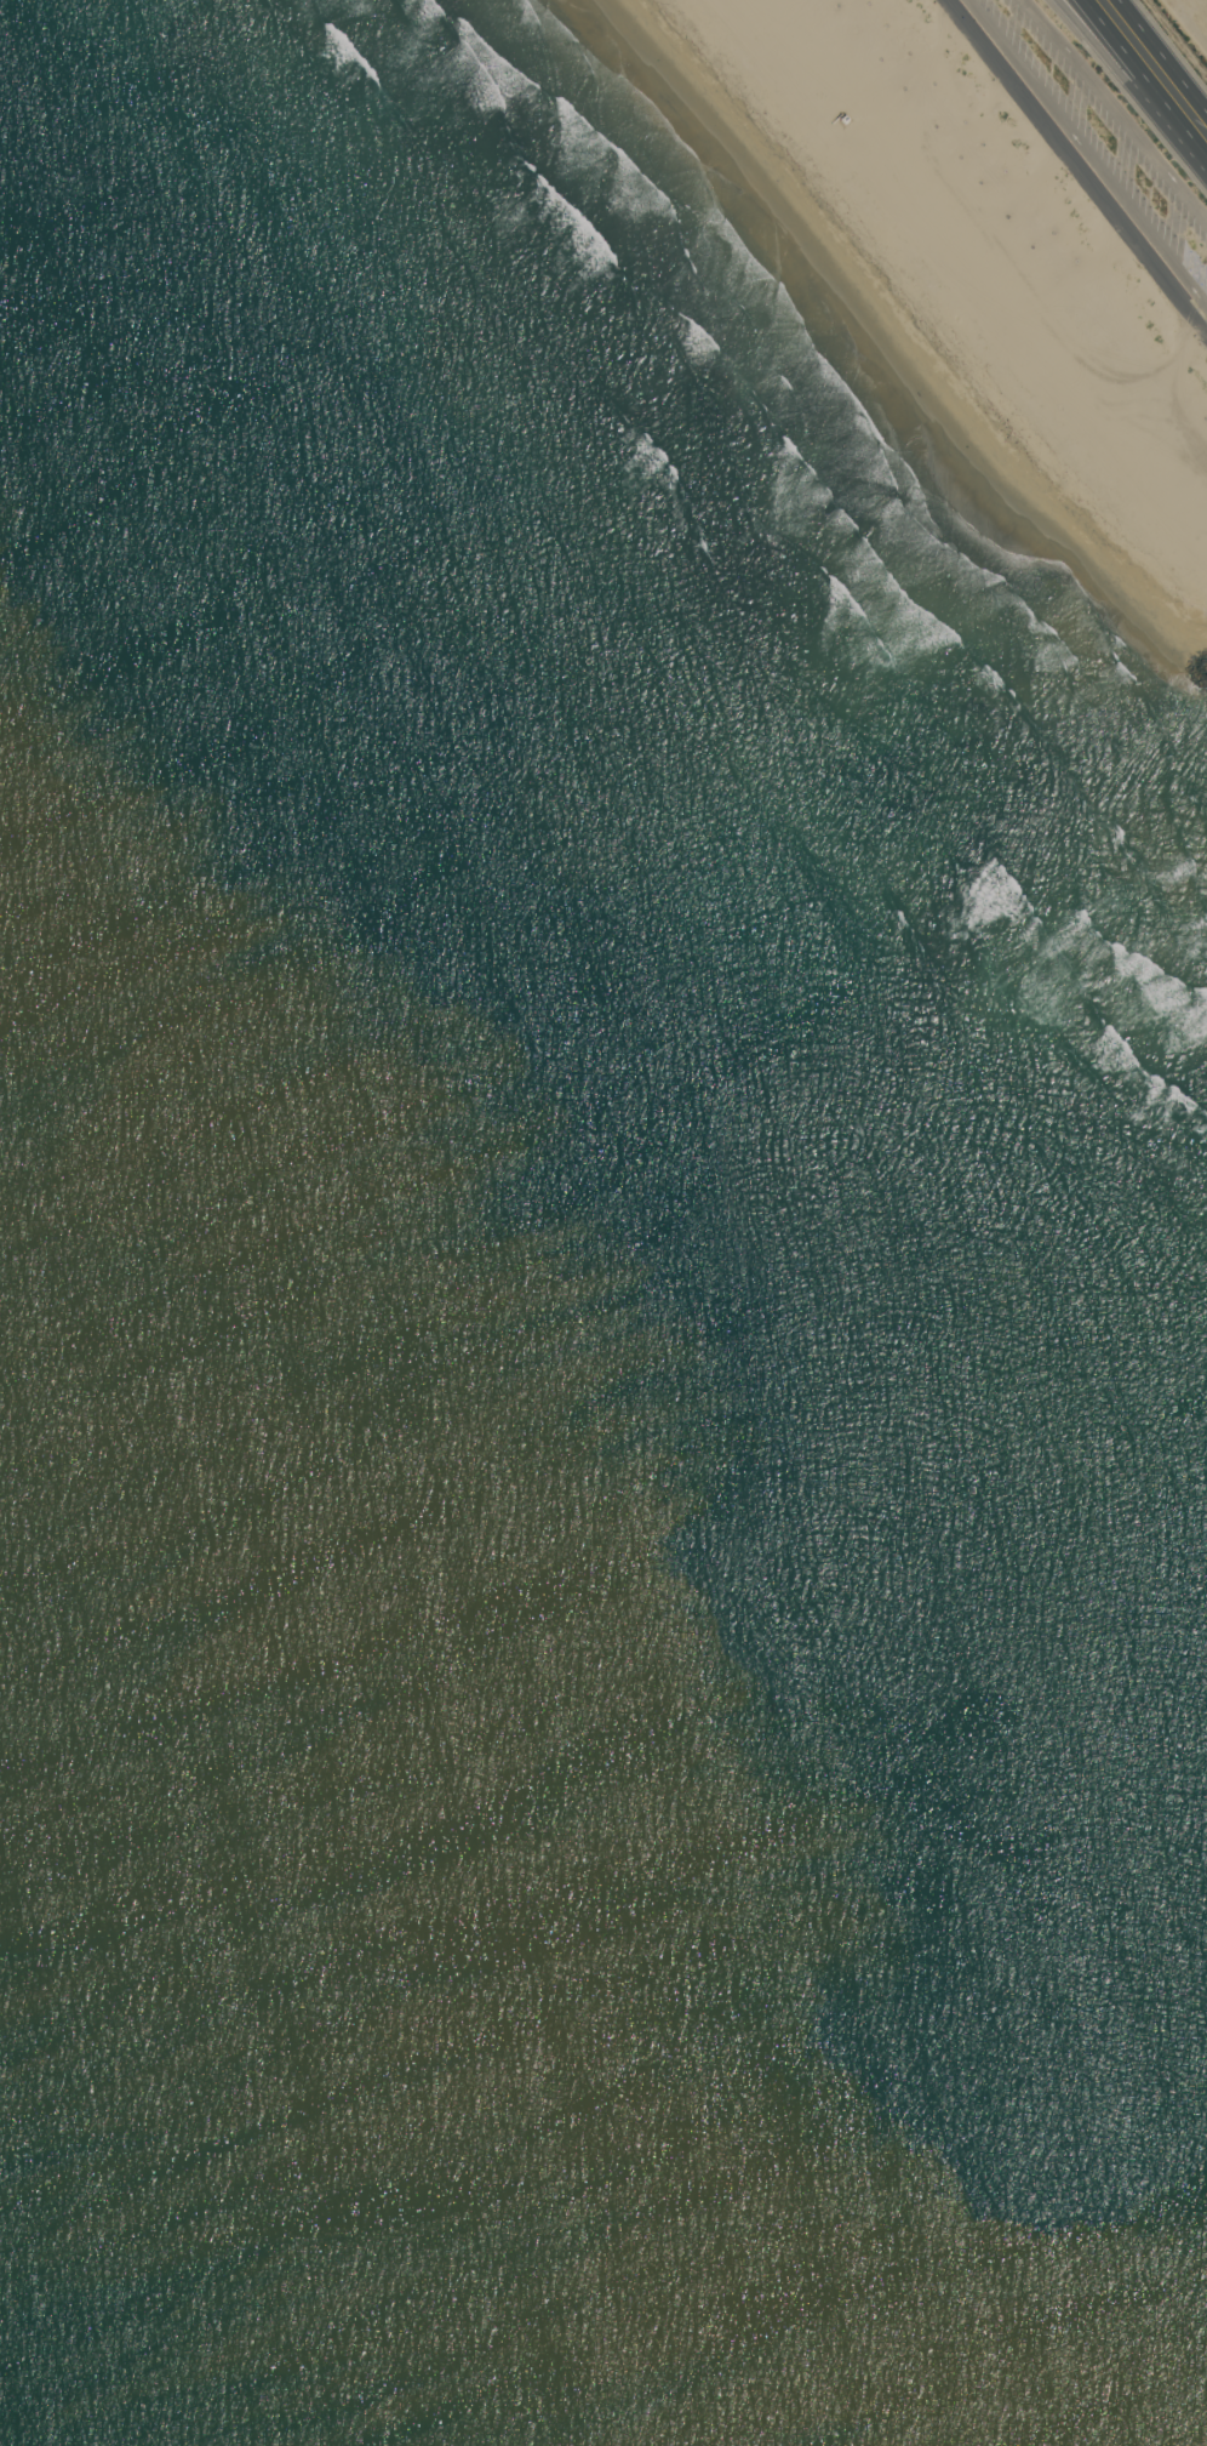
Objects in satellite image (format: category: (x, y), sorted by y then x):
road: (1146, 64)
road: (1119, 73)
road: (1116, 110)
road: (1202, 135)
road: (1089, 152)
road: (1081, 163)

